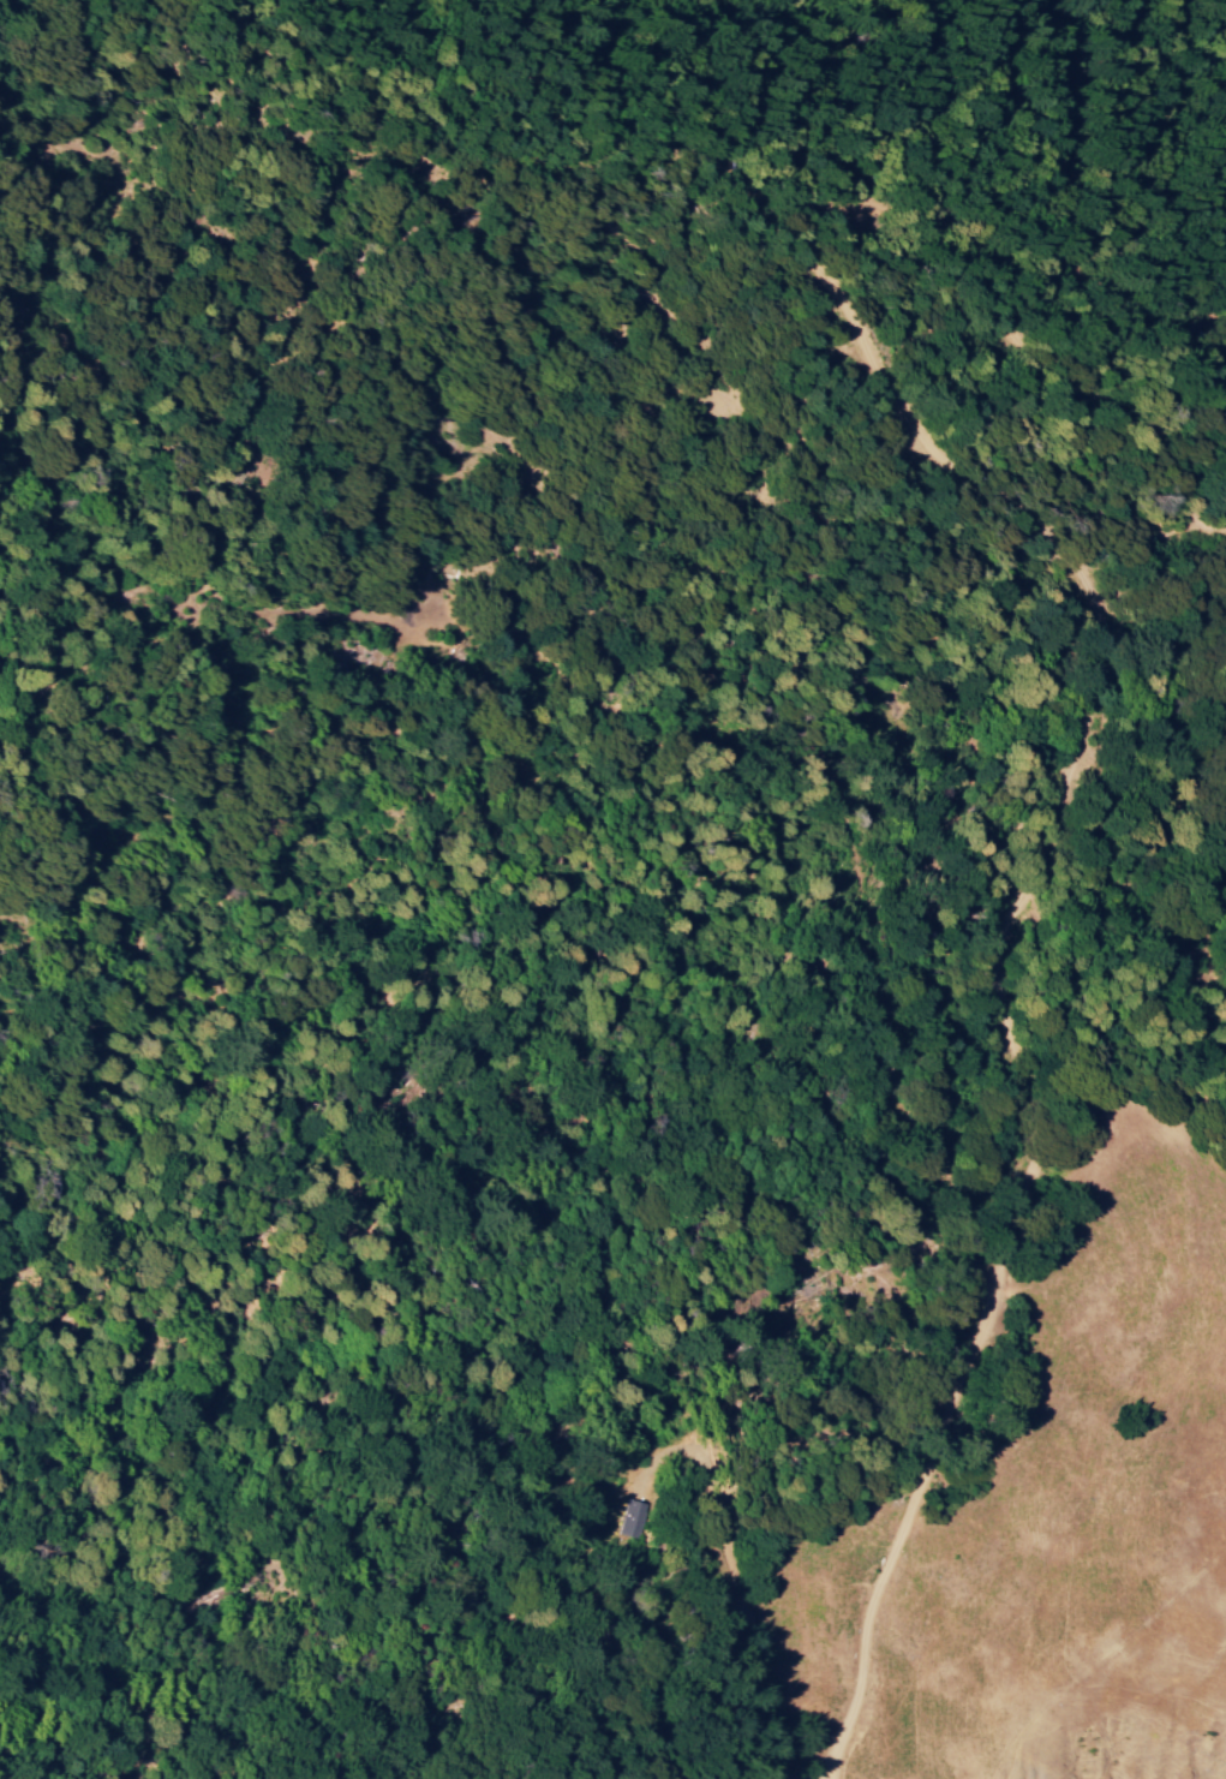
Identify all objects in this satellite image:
building: (633, 1517)

